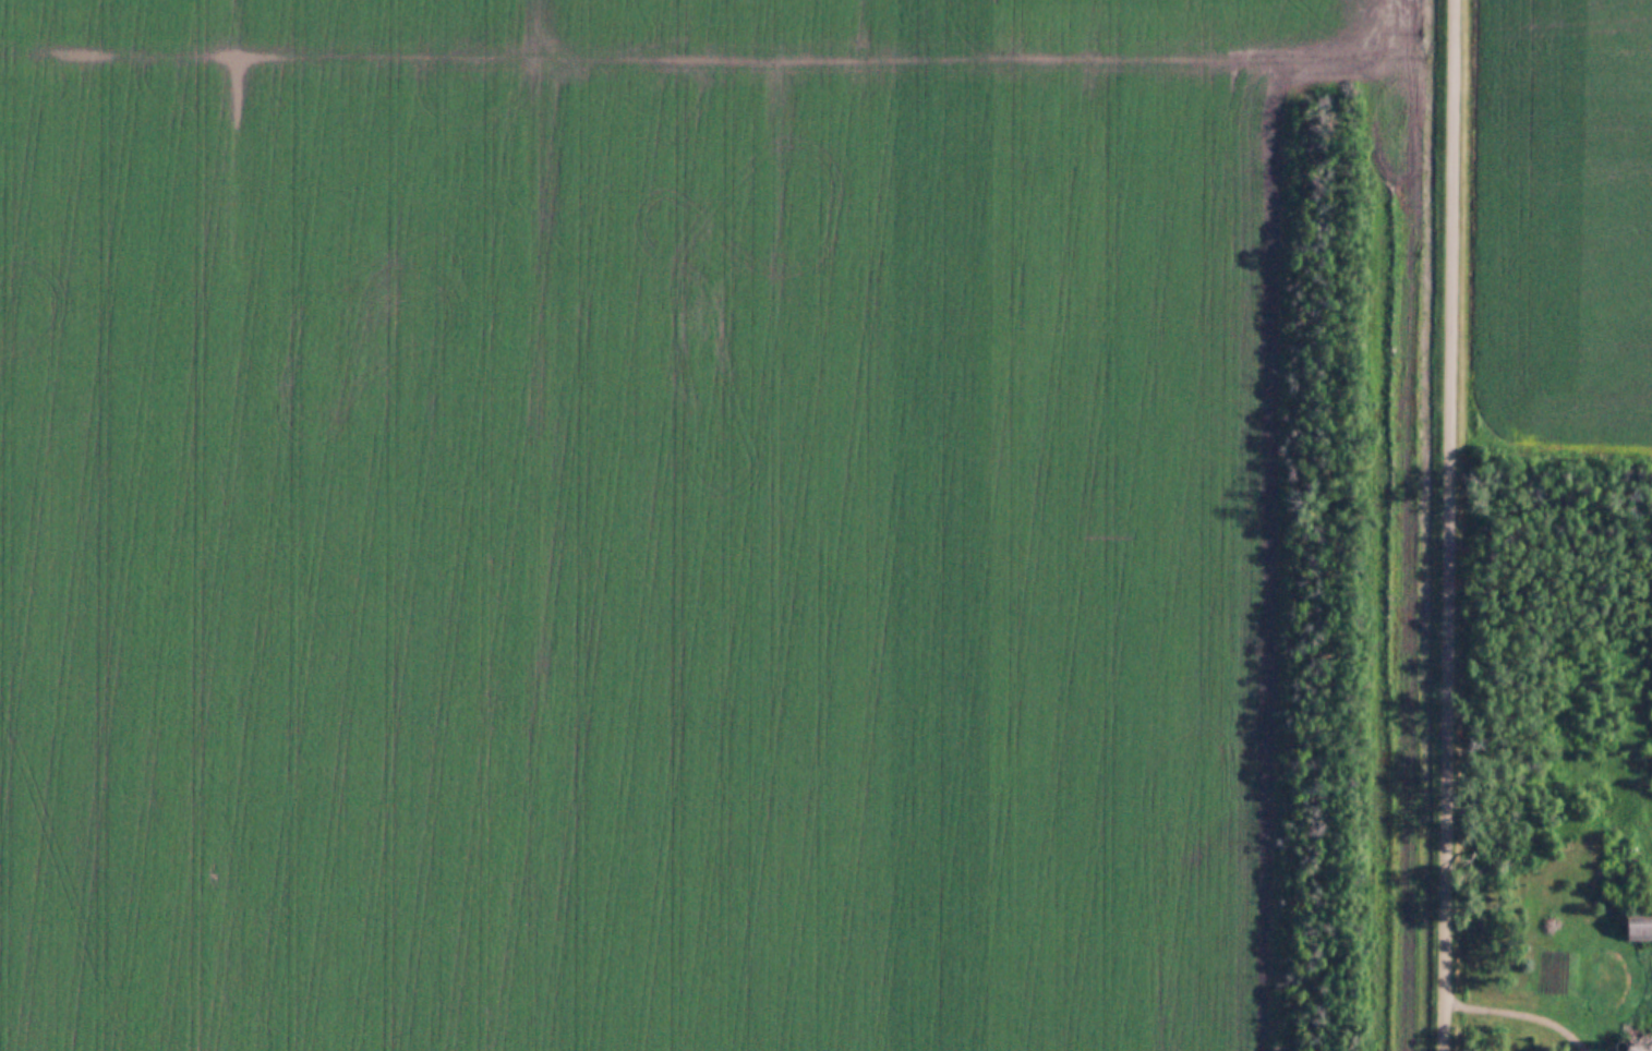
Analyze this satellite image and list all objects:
road: (1451, 525)
road: (1521, 1008)

